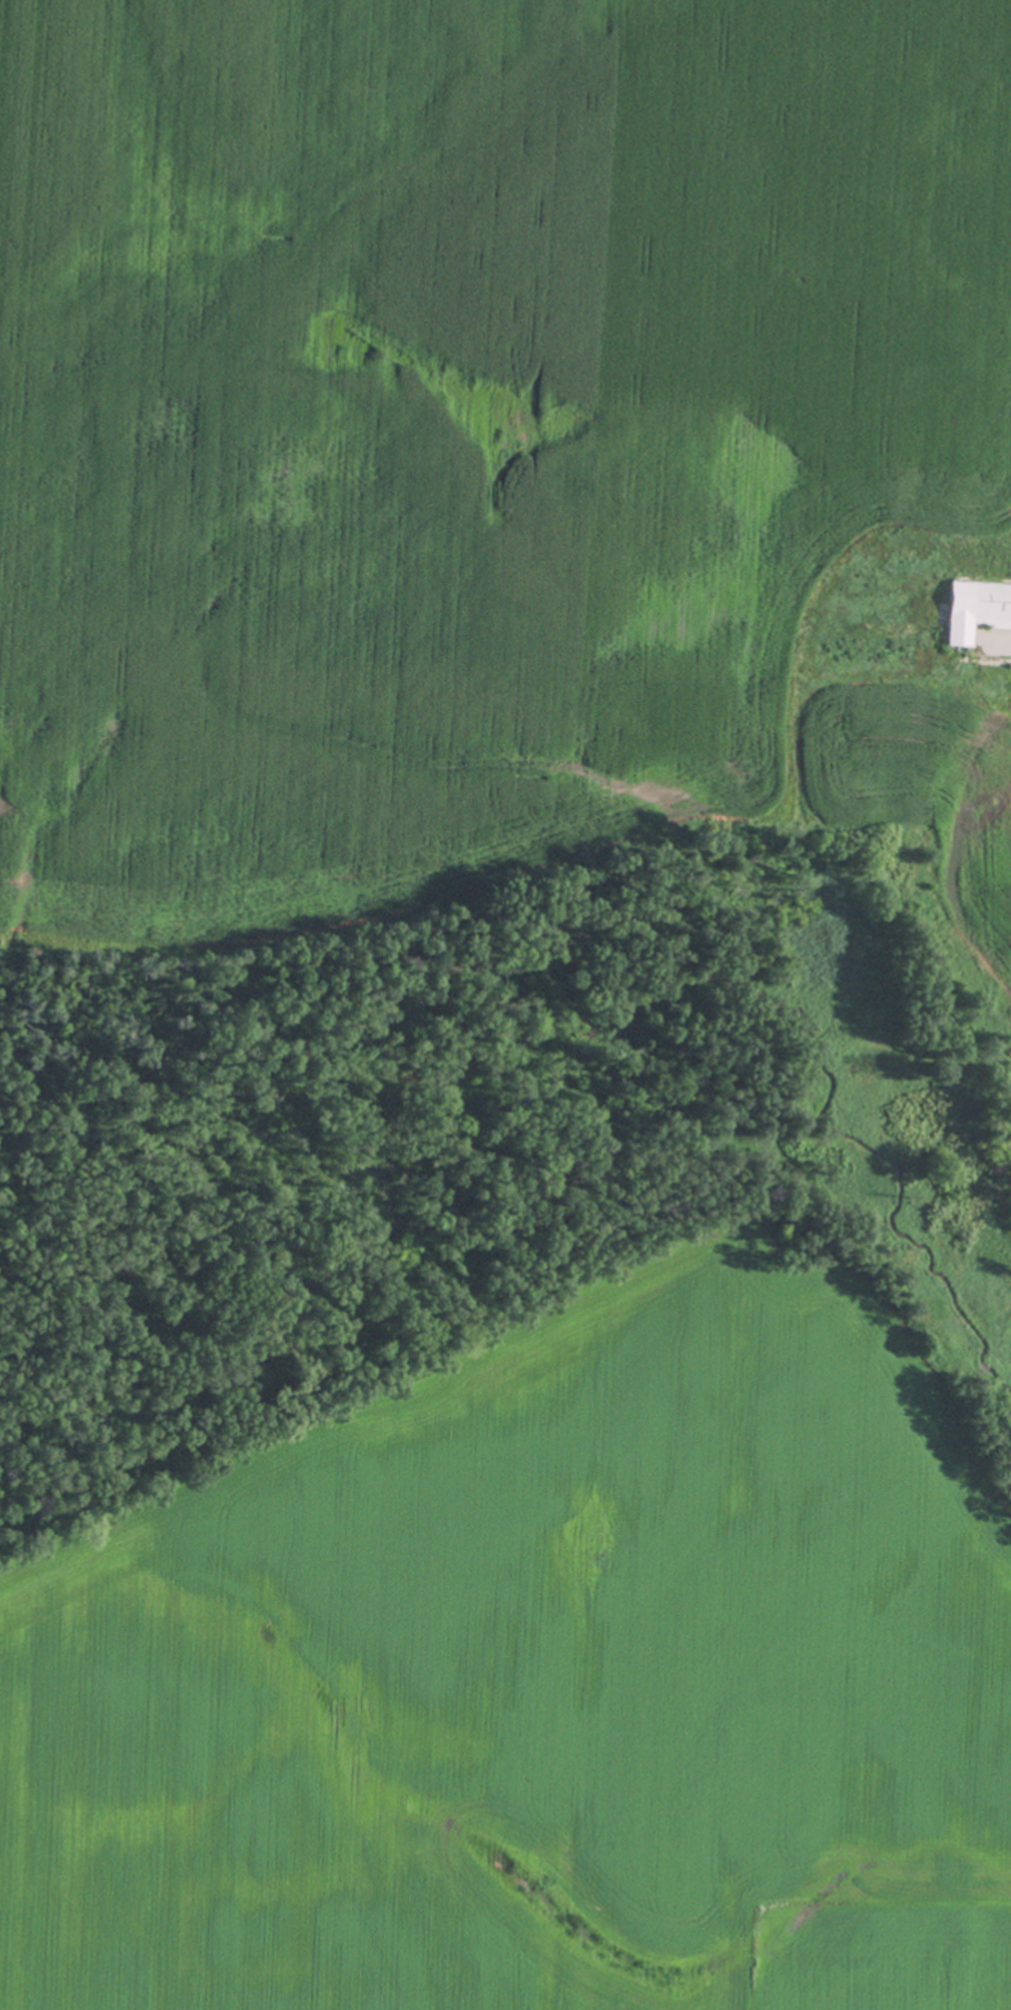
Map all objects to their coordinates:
building: (976, 611)

